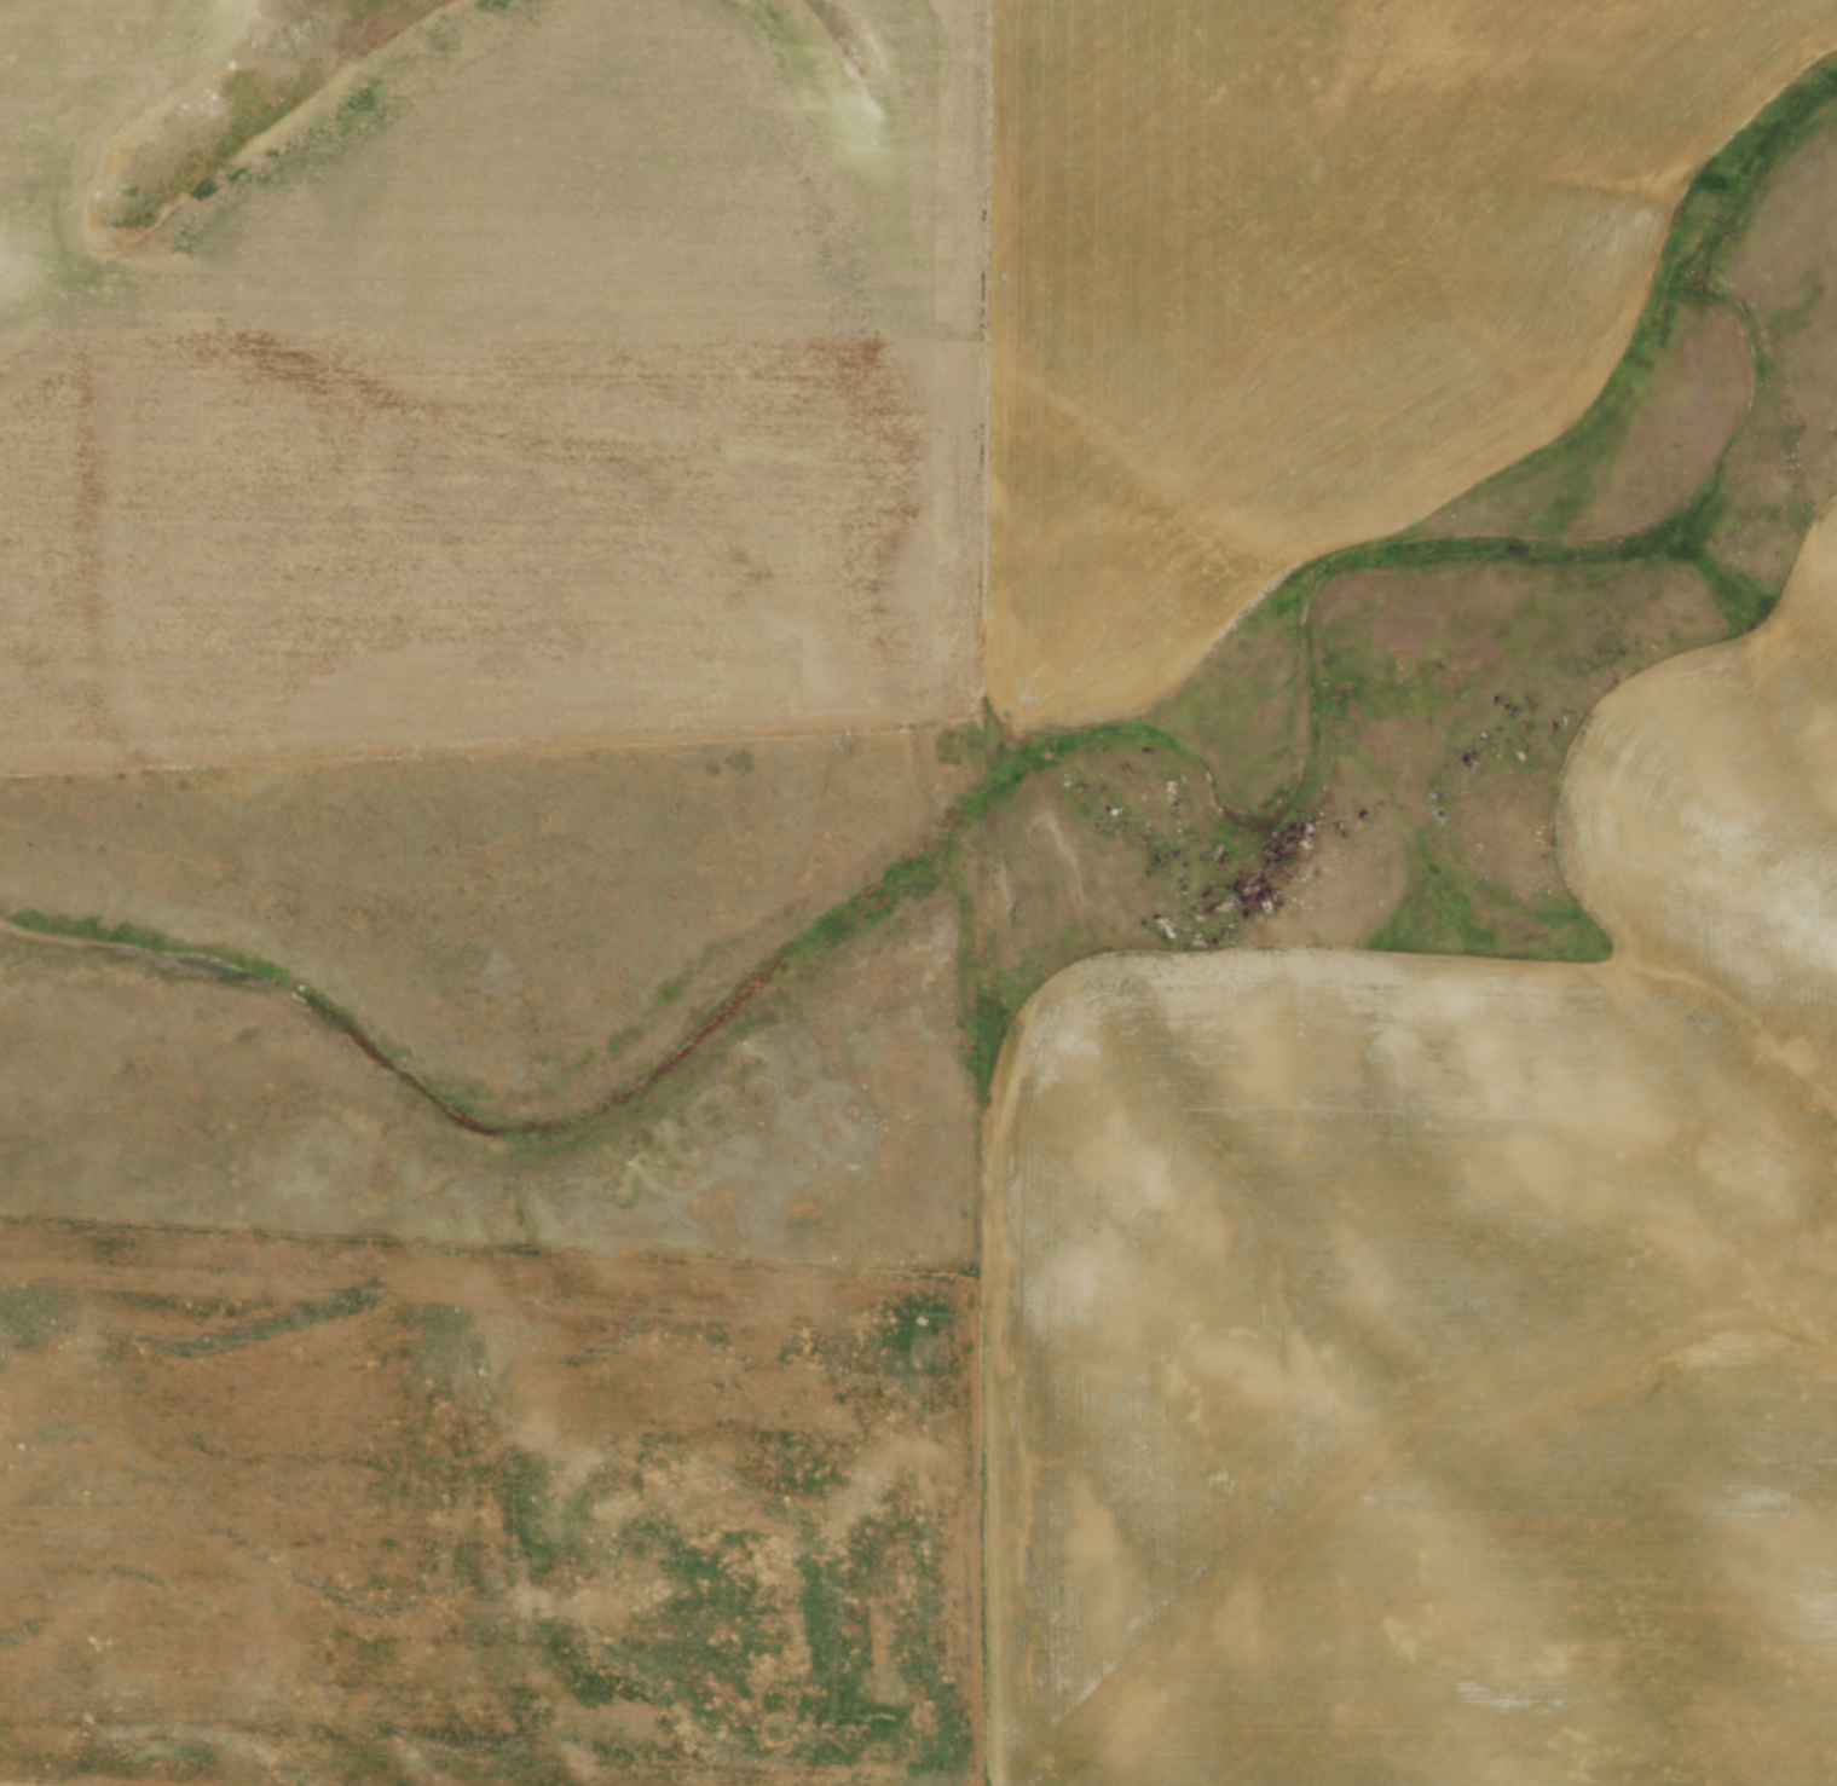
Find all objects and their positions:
crop: (773, 340)
crop: (1057, 1393)

